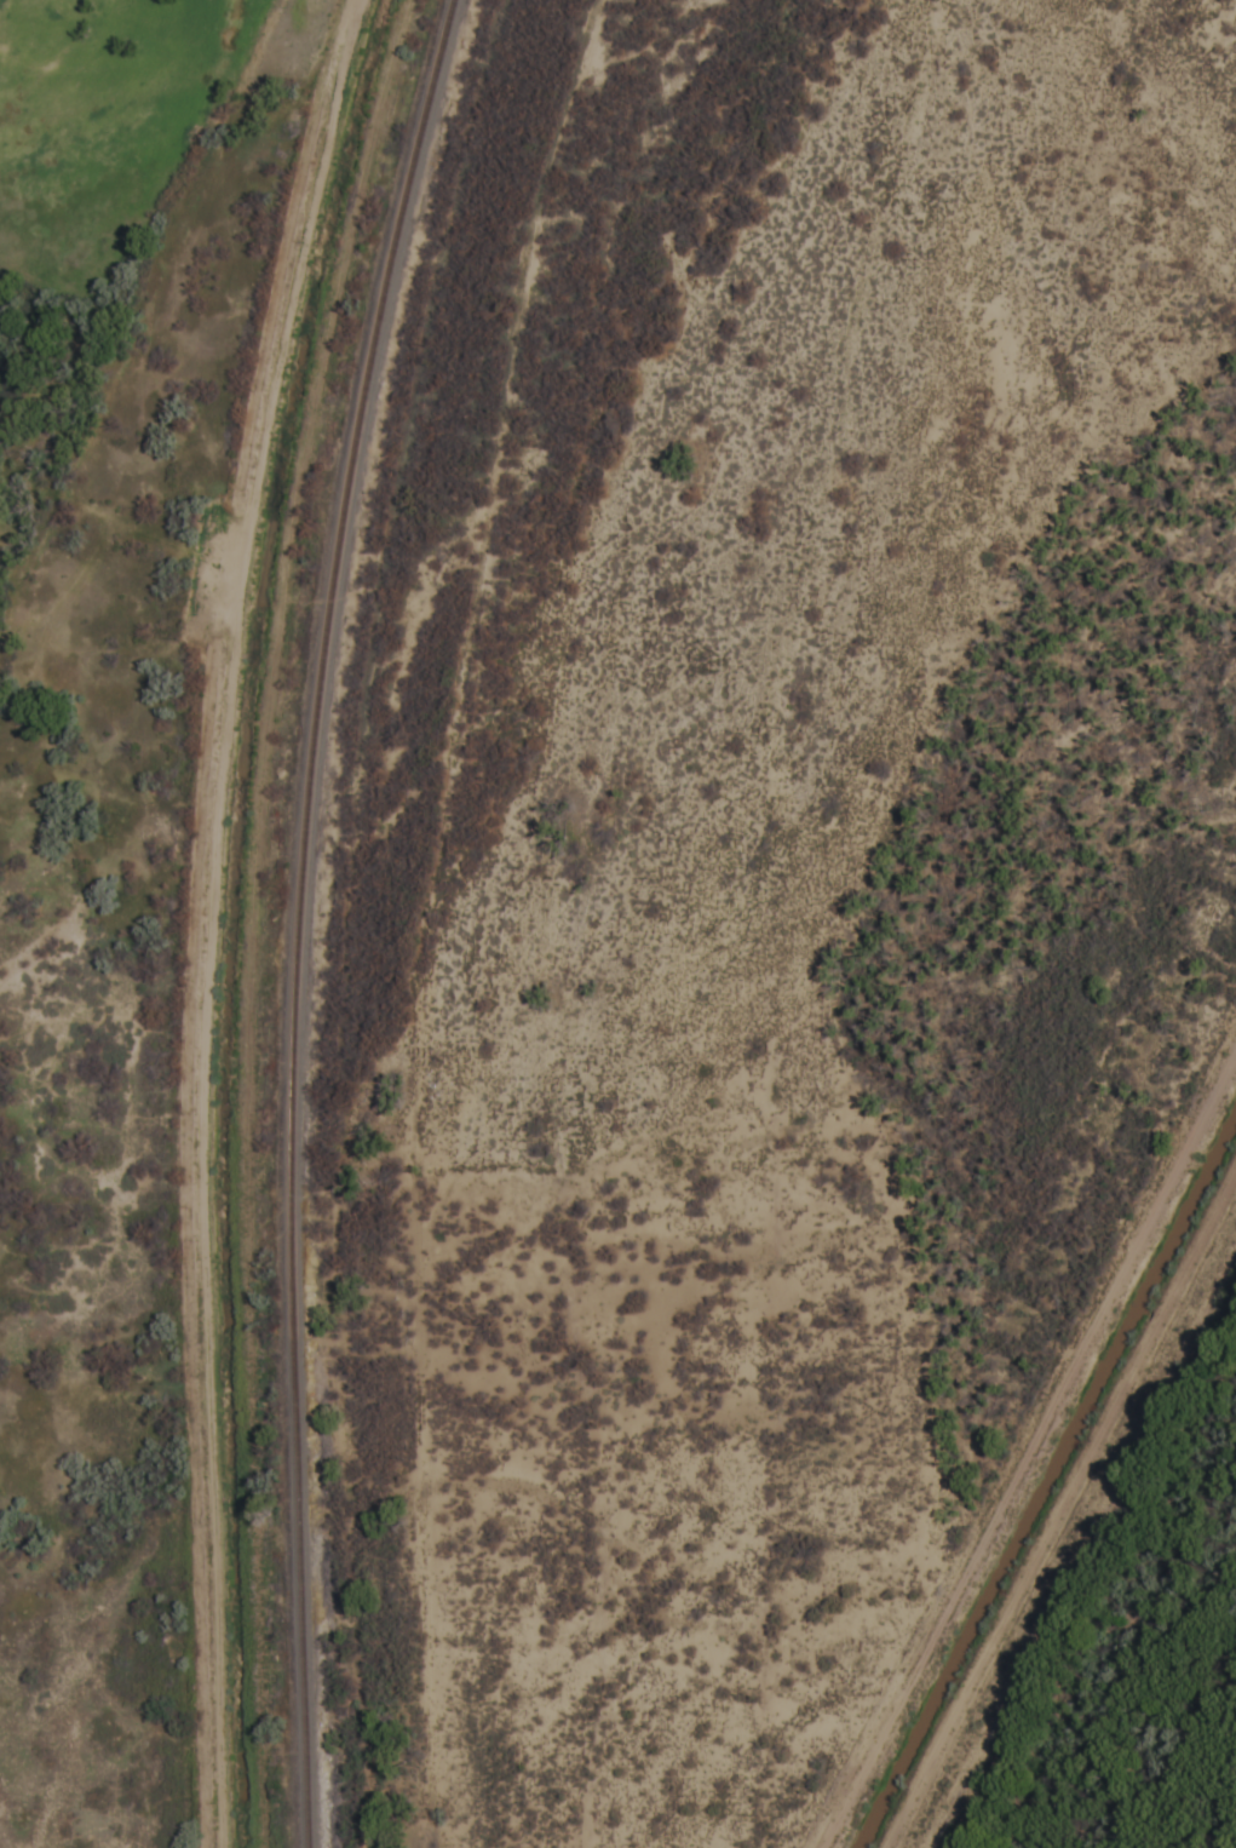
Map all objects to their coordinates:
road: (185, 913)
road: (360, 913)
road: (476, 913)
railway: (305, 917)

